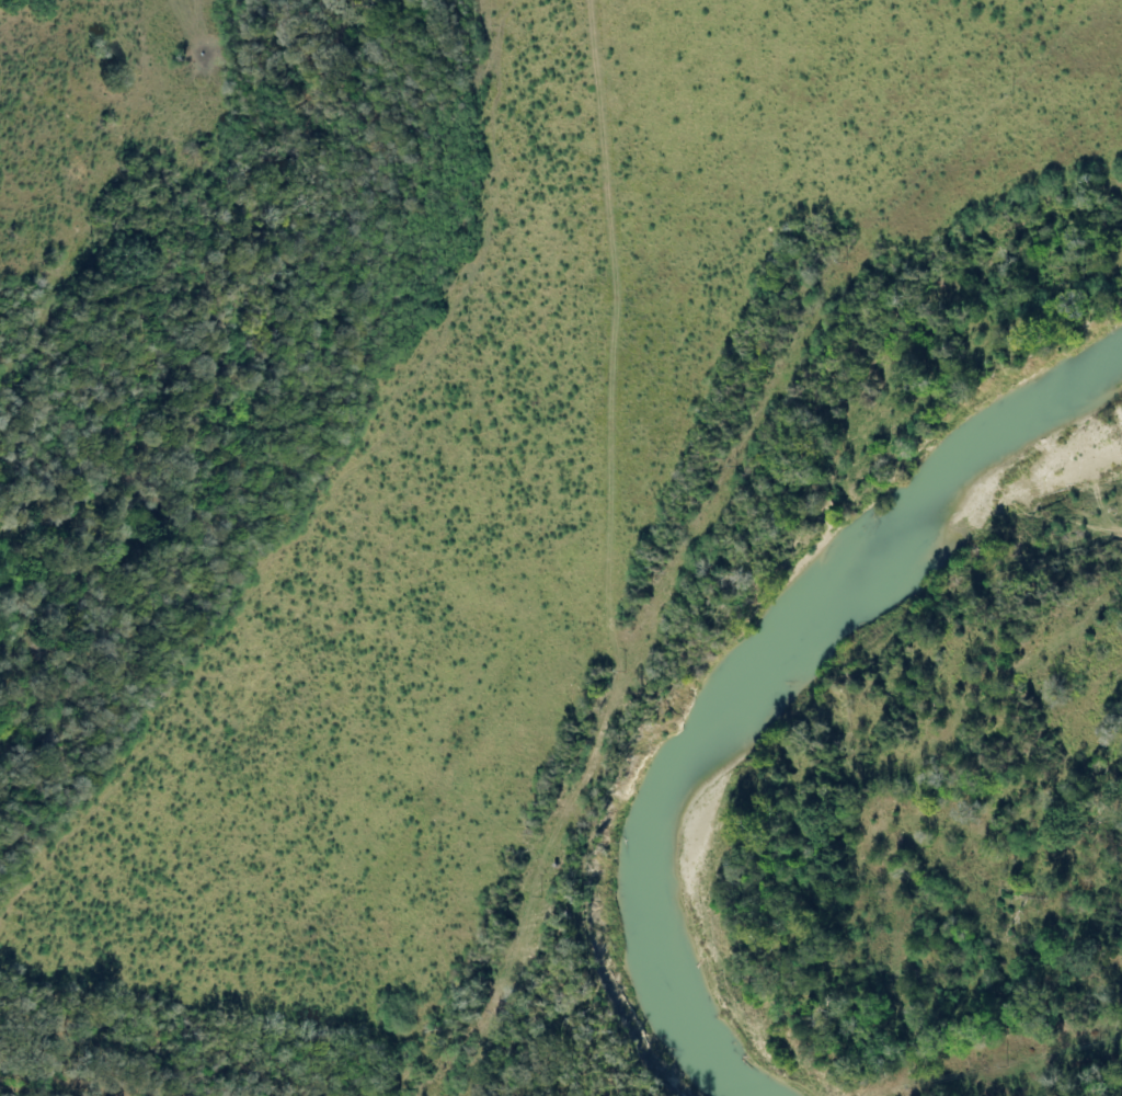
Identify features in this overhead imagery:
river: (757, 682)

